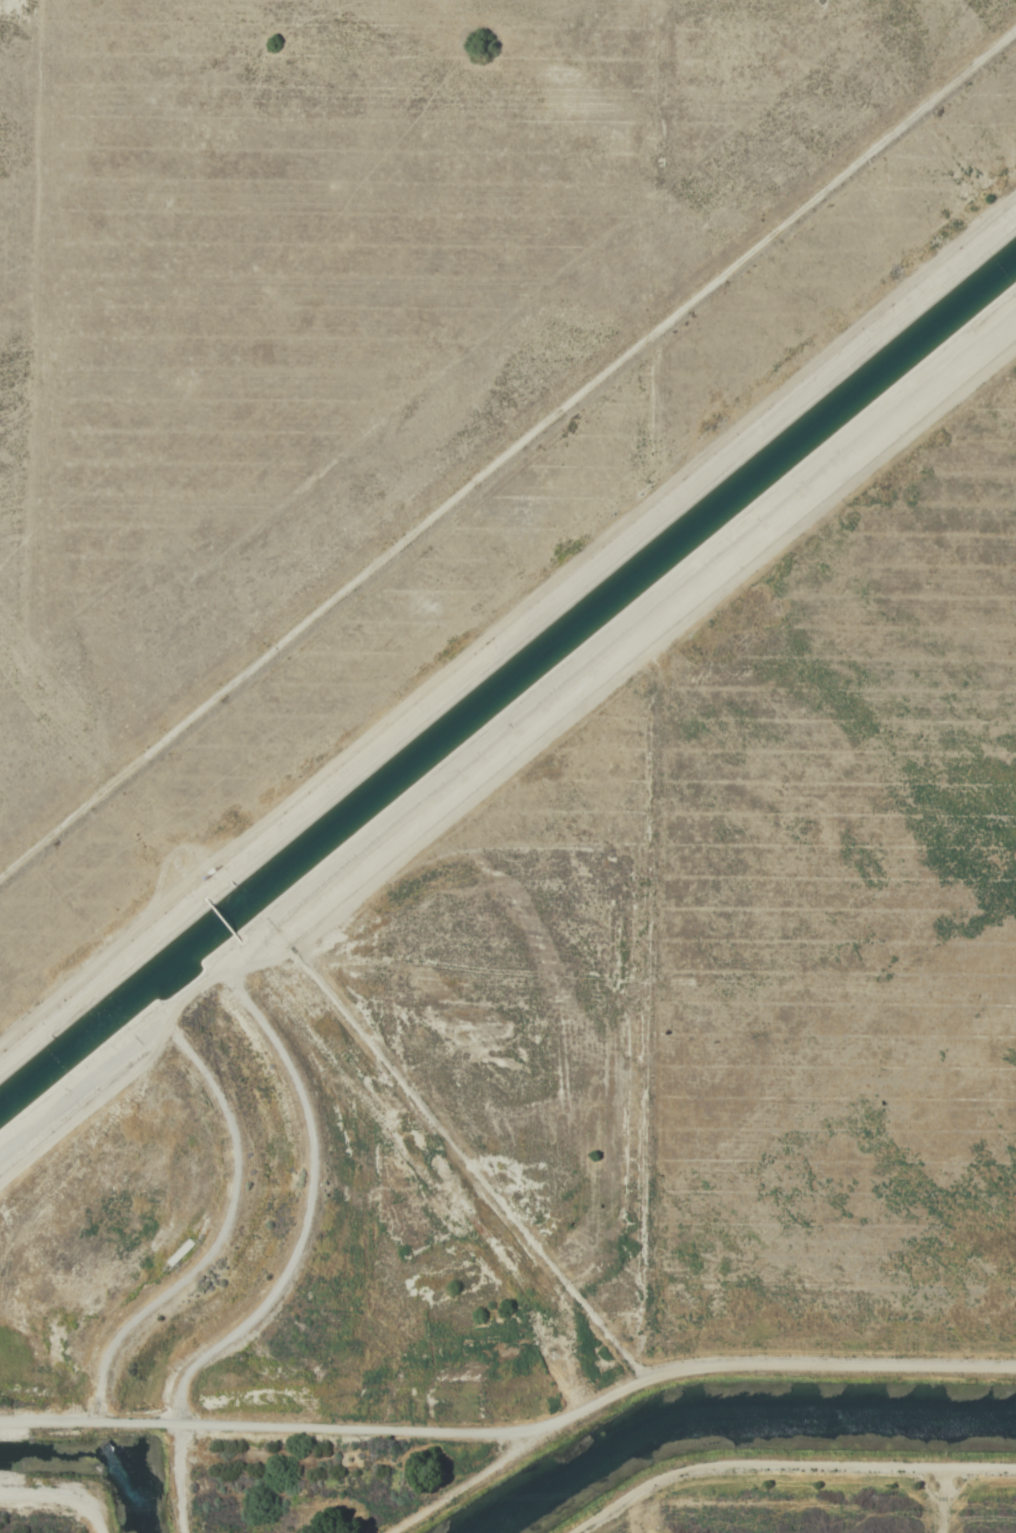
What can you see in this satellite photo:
crop: (390, 358)

